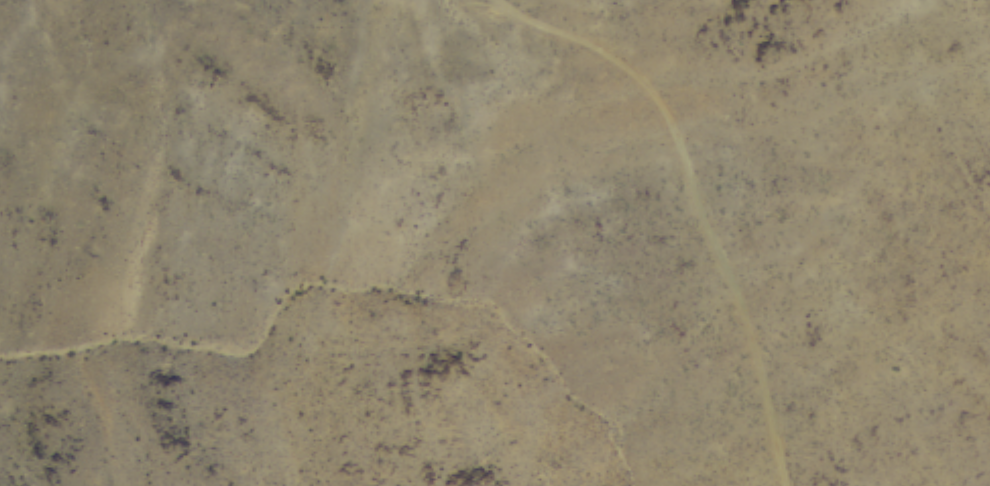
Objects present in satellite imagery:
road: (697, 206)

